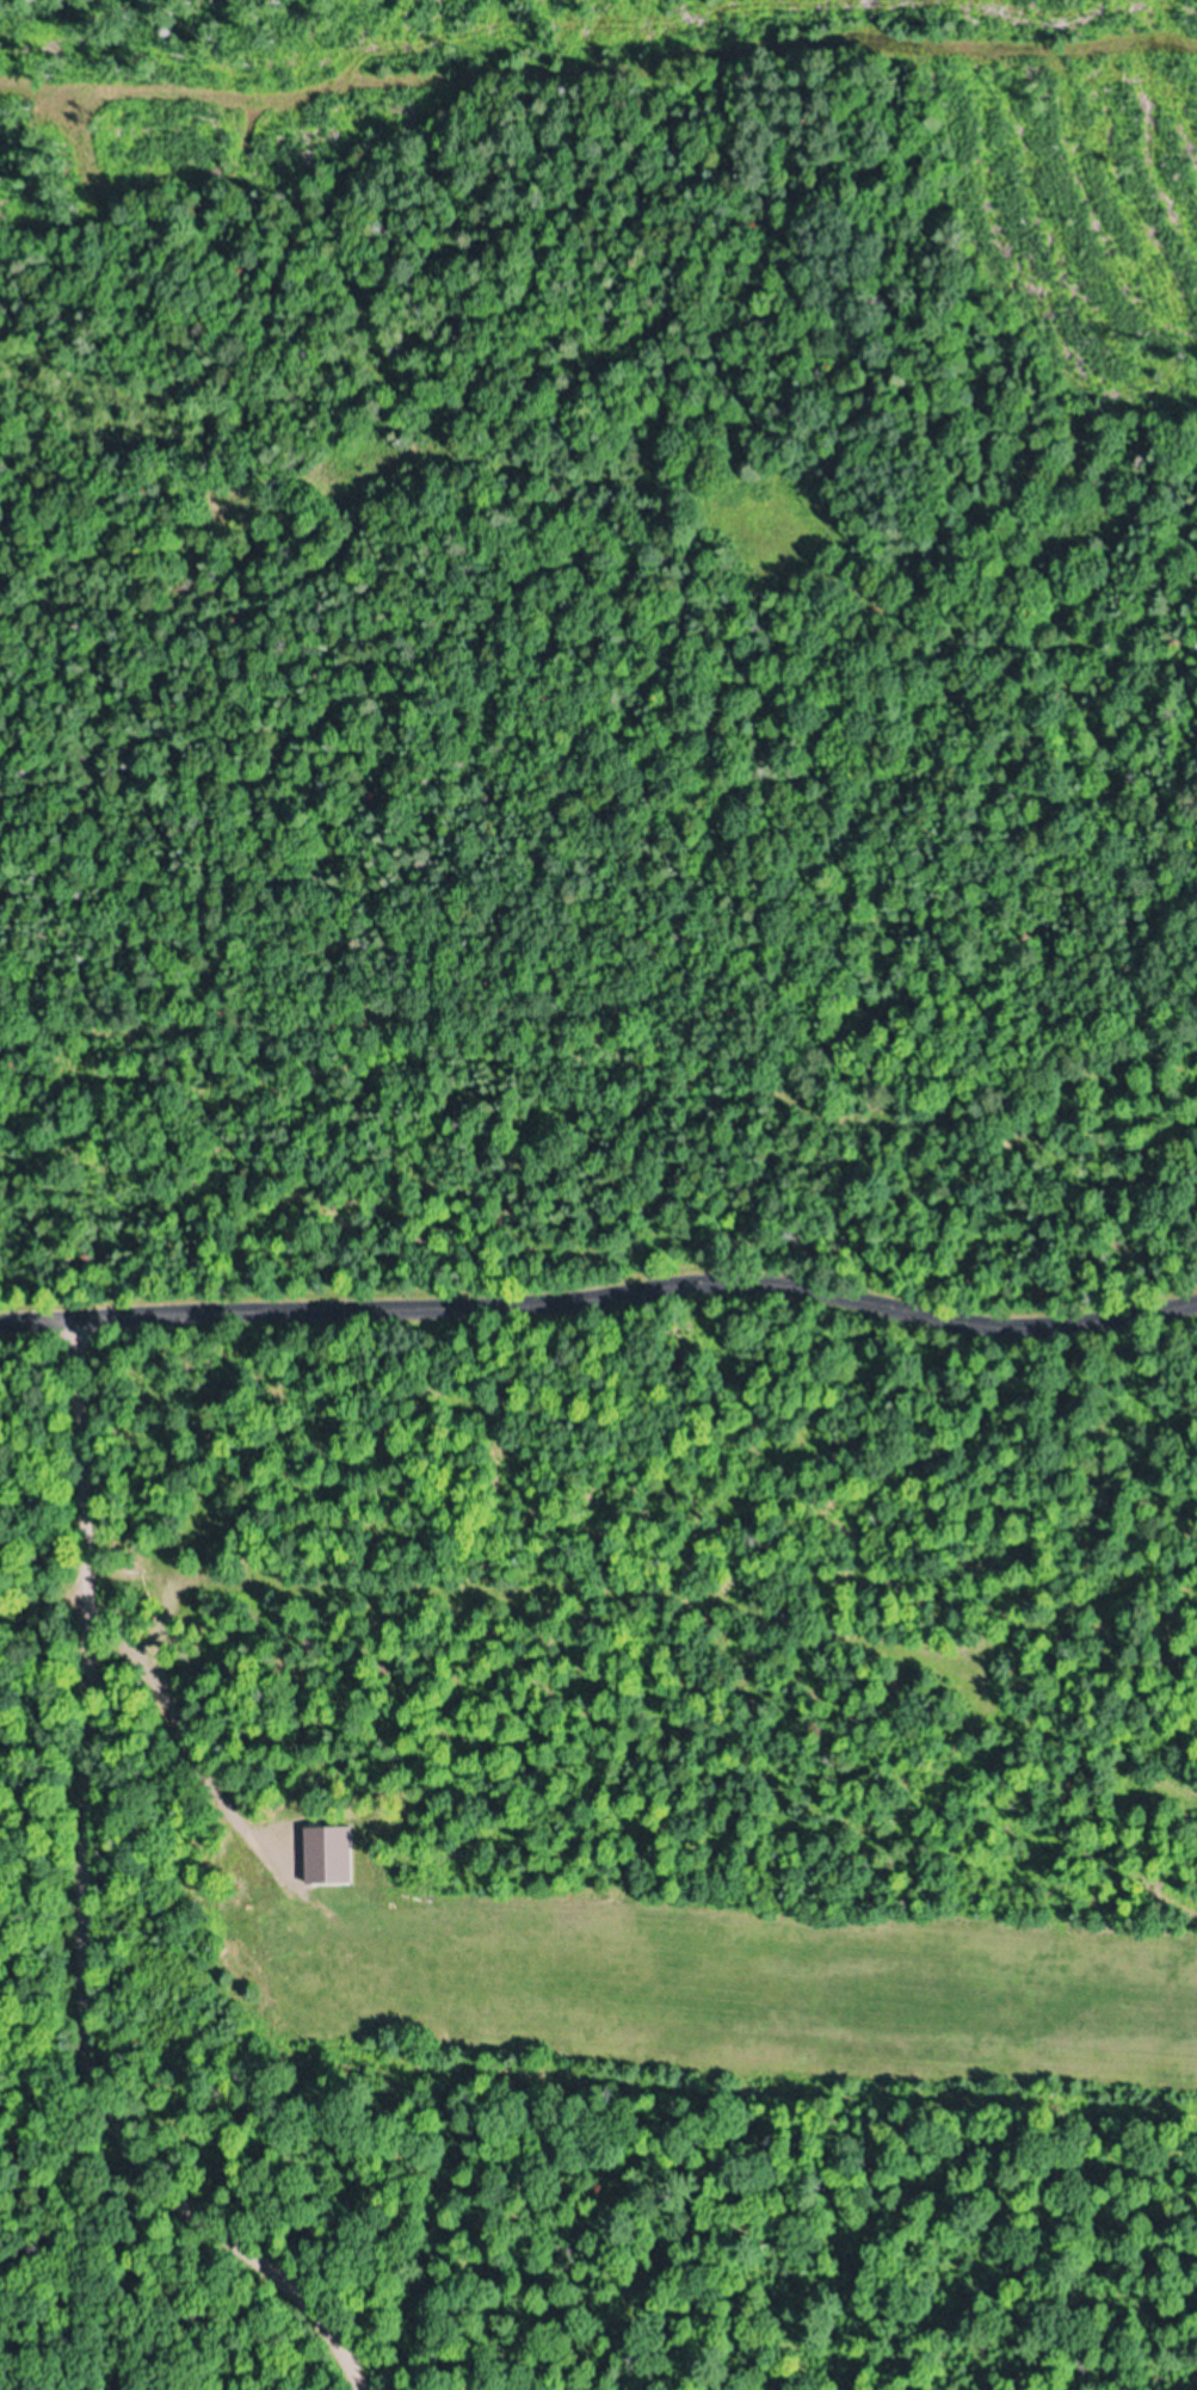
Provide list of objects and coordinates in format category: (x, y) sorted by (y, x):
road: (599, 44)
road: (622, 1291)
road: (20, 1323)
road: (55, 1634)
road: (73, 1903)
airport runway: (734, 1982)

